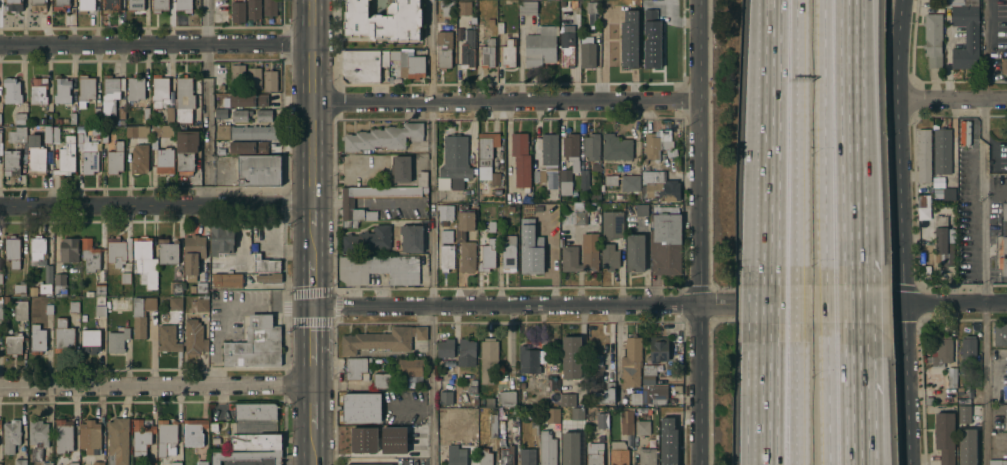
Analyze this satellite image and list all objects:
building: (959, 3)
building: (13, 5)
building: (37, 5)
building: (60, 5)
building: (573, 5)
building: (85, 6)
building: (110, 6)
building: (135, 6)
building: (159, 6)
building: (183, 6)
building: (269, 8)
building: (447, 8)
building: (527, 8)
building: (609, 8)
building: (643, 8)
building: (463, 9)
building: (253, 10)
building: (592, 12)
building: (237, 13)
building: (658, 19)
building: (375, 21)
building: (413, 21)
building: (472, 21)
building: (635, 24)
building: (500, 29)
building: (965, 35)
building: (933, 39)
building: (650, 40)
road: (155, 46)
building: (540, 48)
building: (443, 49)
road: (983, 49)
building: (566, 50)
building: (467, 51)
building: (586, 53)
building: (616, 53)
building: (487, 54)
building: (507, 54)
building: (400, 61)
building: (1003, 64)
building: (362, 66)
building: (415, 68)
building: (238, 75)
building: (253, 79)
building: (390, 80)
building: (270, 82)
building: (220, 87)
building: (135, 90)
building: (11, 92)
building: (62, 92)
building: (85, 92)
building: (159, 92)
building: (38, 93)
building: (110, 95)
road: (955, 99)
building: (184, 100)
road: (503, 101)
building: (248, 102)
road: (208, 103)
road: (310, 103)
building: (95, 113)
building: (121, 115)
building: (221, 115)
building: (146, 116)
building: (169, 116)
building: (241, 117)
building: (264, 117)
road: (984, 117)
building: (48, 119)
building: (72, 119)
building: (20, 120)
building: (58, 122)
building: (120, 124)
building: (136, 132)
building: (161, 132)
building: (253, 132)
building: (414, 132)
building: (223, 133)
building: (963, 133)
building: (17, 136)
building: (47, 136)
building: (56, 136)
building: (104, 138)
building: (0, 139)
building: (79, 139)
building: (376, 139)
road: (771, 142)
road: (795, 142)
road: (825, 142)
road: (848, 142)
building: (570, 147)
building: (246, 148)
building: (590, 148)
building: (615, 148)
building: (650, 148)
building: (548, 150)
building: (942, 150)
building: (185, 151)
building: (923, 154)
building: (35, 157)
building: (486, 157)
building: (65, 158)
building: (139, 160)
building: (520, 160)
building: (115, 161)
building: (454, 162)
building: (165, 163)
building: (10, 164)
building: (89, 164)
road: (343, 167)
building: (400, 170)
building: (258, 172)
building: (538, 177)
building: (421, 180)
building: (583, 181)
building: (610, 181)
building: (564, 182)
building: (629, 184)
building: (659, 187)
building: (949, 193)
building: (593, 197)
building: (923, 199)
building: (583, 201)
road: (346, 204)
road: (385, 204)
road: (325, 205)
road: (154, 207)
building: (346, 207)
building: (510, 210)
building: (1004, 210)
building: (640, 211)
building: (445, 213)
road: (310, 216)
building: (578, 217)
building: (348, 224)
building: (443, 224)
building: (612, 225)
building: (491, 227)
building: (526, 231)
road: (431, 232)
road: (697, 232)
road: (904, 232)
building: (459, 236)
building: (444, 237)
building: (410, 239)
building: (367, 240)
building: (221, 242)
road: (311, 242)
building: (943, 242)
building: (1002, 244)
building: (664, 245)
building: (68, 251)
building: (12, 252)
building: (118, 252)
building: (168, 253)
building: (634, 254)
building: (508, 255)
building: (581, 255)
building: (90, 256)
building: (193, 256)
building: (486, 257)
building: (529, 257)
building: (609, 257)
building: (445, 259)
building: (41, 263)
building: (144, 263)
building: (1003, 264)
building: (264, 265)
building: (227, 267)
building: (379, 270)
building: (0, 279)
building: (125, 279)
building: (269, 279)
building: (227, 282)
road: (311, 283)
building: (59, 285)
building: (175, 288)
building: (19, 289)
building: (192, 290)
building: (32, 291)
building: (97, 292)
building: (40, 296)
building: (6, 301)
building: (100, 302)
building: (175, 304)
road: (770, 304)
road: (795, 304)
road: (826, 304)
road: (851, 304)
road: (955, 304)
road: (504, 305)
road: (716, 305)
road: (812, 305)
road: (898, 305)
building: (199, 306)
traffic signals: (311, 307)
building: (73, 308)
building: (0, 310)
building: (20, 311)
building: (48, 311)
building: (99, 312)
road: (987, 312)
building: (141, 316)
building: (83, 319)
building: (1000, 332)
building: (418, 333)
road: (311, 336)
building: (63, 337)
building: (194, 339)
building: (168, 340)
building: (37, 341)
building: (90, 342)
building: (117, 342)
building: (376, 342)
building: (13, 345)
building: (255, 345)
building: (445, 349)
building: (943, 350)
building: (967, 350)
building: (657, 351)
road: (852, 352)
building: (671, 353)
building: (465, 354)
building: (570, 357)
building: (929, 358)
building: (487, 360)
building: (527, 361)
building: (630, 364)
building: (410, 368)
building: (356, 369)
building: (594, 373)
building: (648, 374)
road: (311, 376)
building: (951, 376)
building: (383, 382)
building: (407, 383)
road: (155, 387)
building: (471, 388)
building: (1004, 391)
road: (769, 394)
road: (795, 394)
road: (827, 394)
building: (655, 395)
building: (604, 396)
building: (446, 398)
building: (507, 399)
building: (635, 399)
building: (928, 399)
building: (565, 400)
building: (487, 402)
road: (311, 407)
building: (361, 408)
building: (254, 413)
building: (576, 413)
building: (964, 414)
building: (552, 416)
building: (664, 418)
building: (1006, 418)
building: (456, 421)
building: (626, 421)
building: (579, 423)
road: (852, 423)
road: (856, 423)
building: (0, 425)
building: (602, 425)
building: (493, 426)
building: (533, 426)
building: (213, 428)
building: (641, 428)
building: (193, 433)
building: (38, 434)
building: (945, 436)
building: (11, 437)
building: (63, 437)
building: (90, 437)
building: (141, 437)
building: (166, 439)
building: (362, 440)
building: (393, 440)
building: (117, 442)
building: (255, 442)
road: (311, 446)
building: (966, 447)
building: (571, 448)
building: (547, 449)
building: (670, 452)
building: (594, 454)
building: (617, 454)
building: (456, 455)
building: (506, 456)
building: (245, 457)
building: (484, 457)
building: (526, 457)
building: (646, 457)
building: (568, 458)
road: (353, 460)
building: (998, 461)
building: (20, 463)
building: (201, 463)
building: (47, 464)
building: (73, 464)
building: (98, 464)
building: (149, 464)
building: (175, 464)

